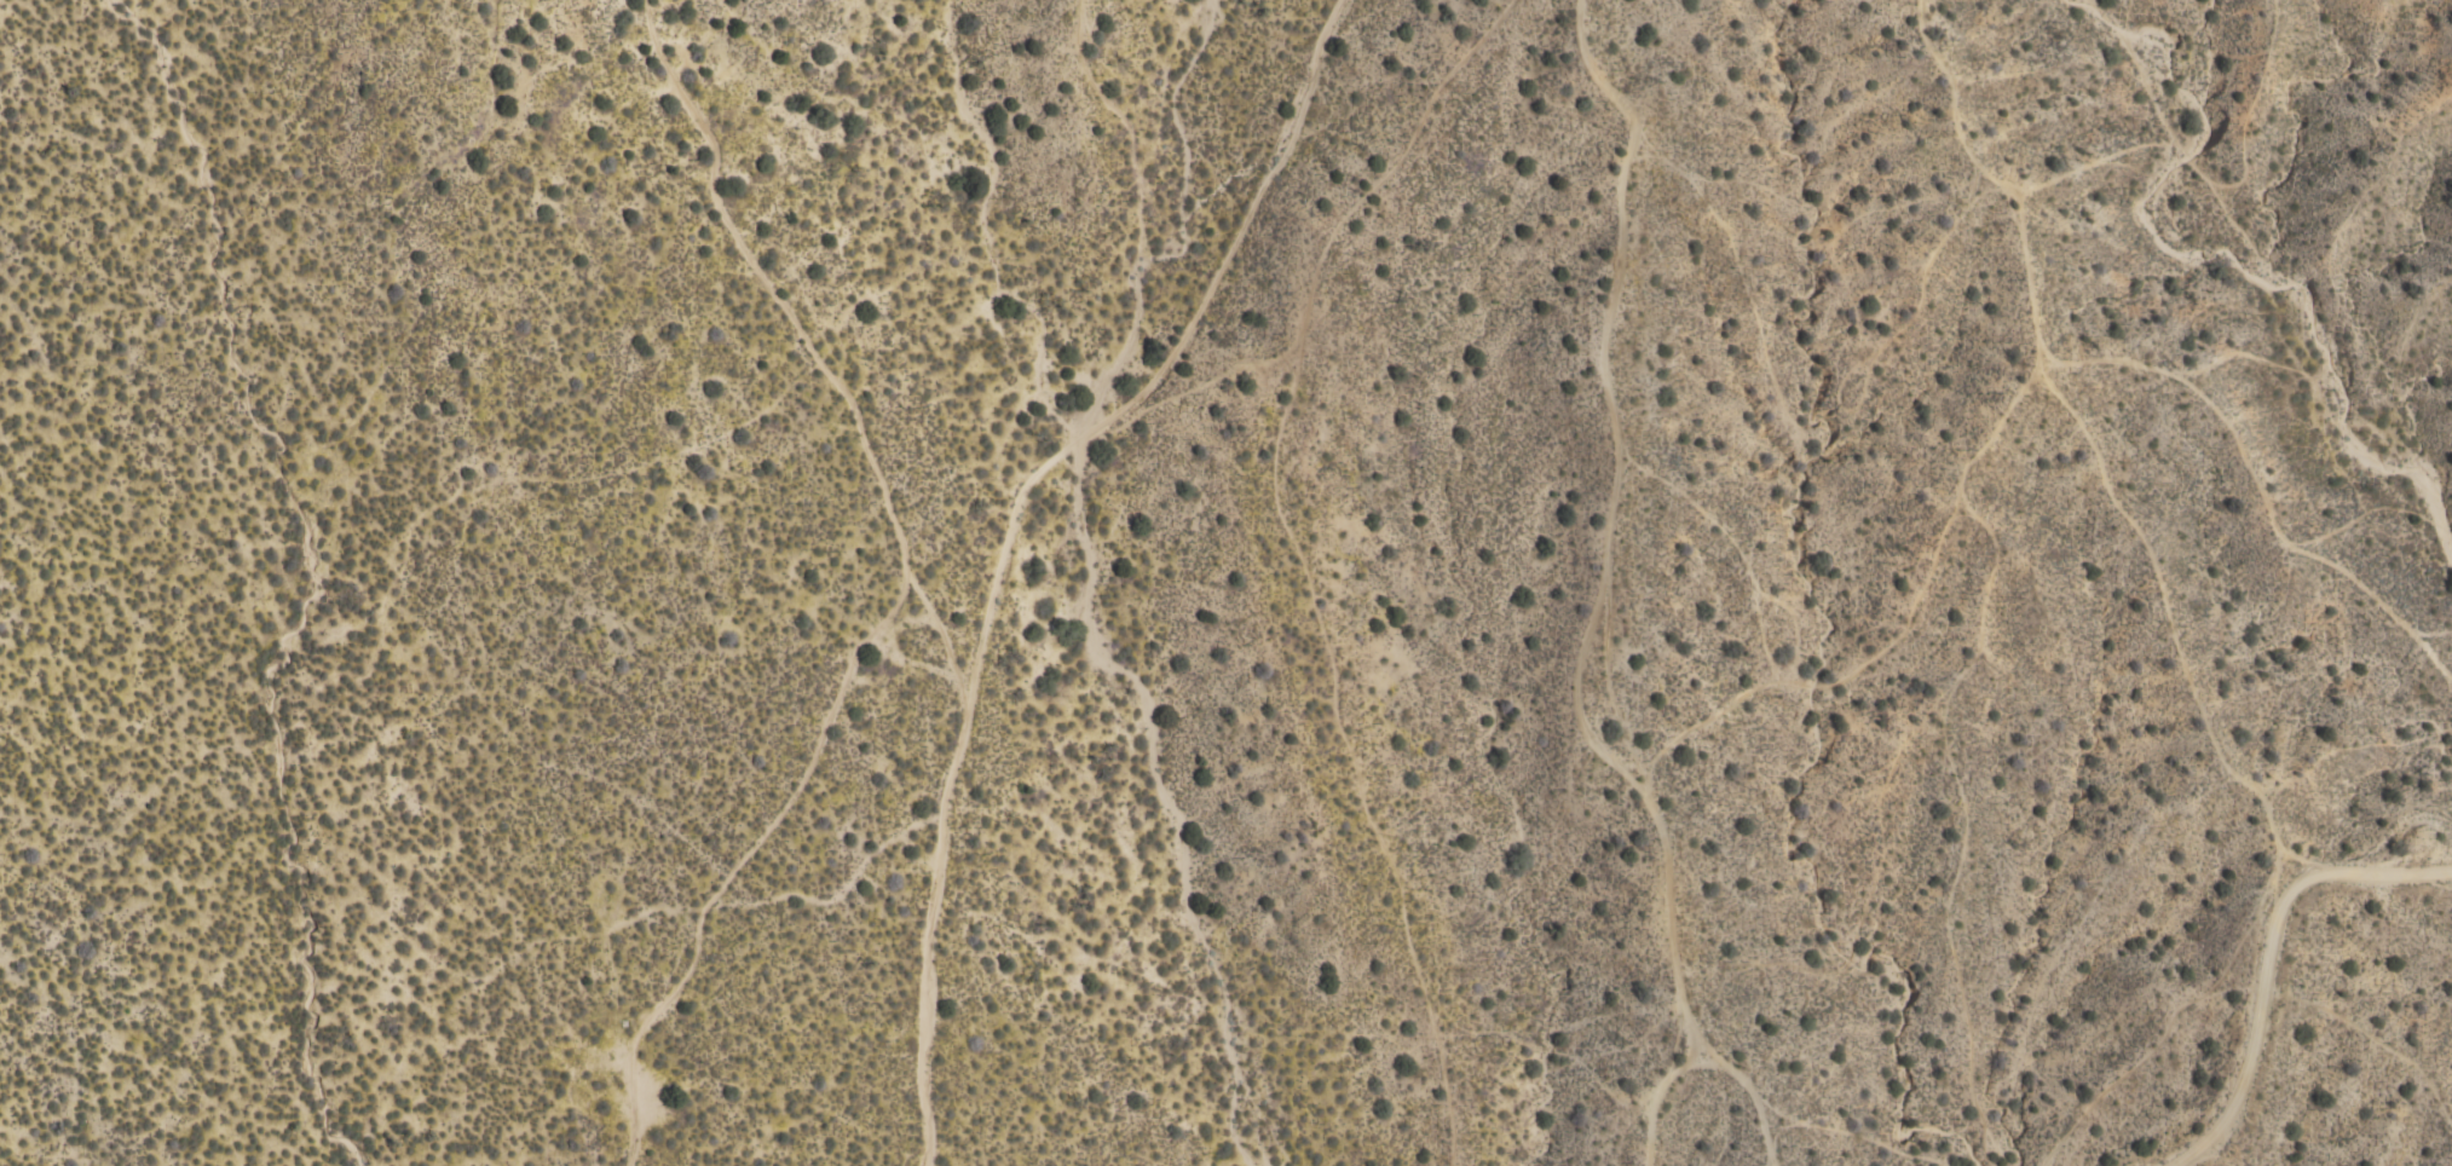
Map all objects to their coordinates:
road: (1587, 599)
road: (2260, 956)

